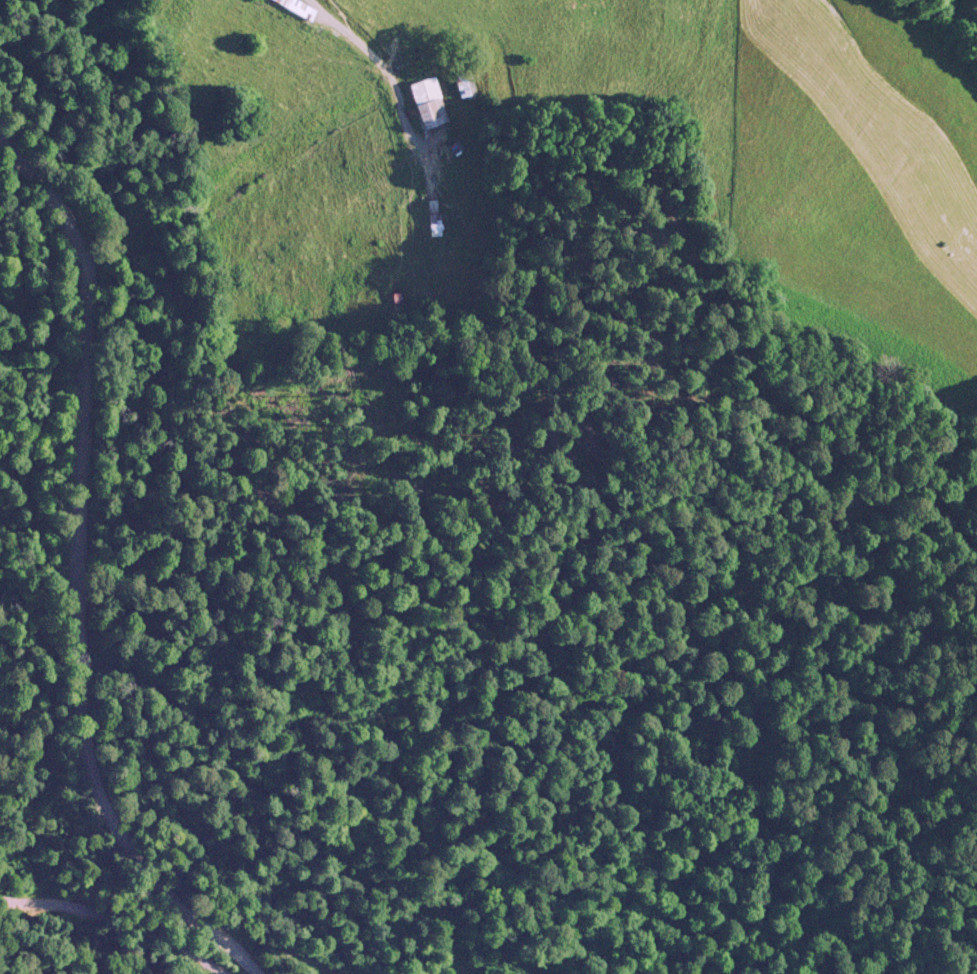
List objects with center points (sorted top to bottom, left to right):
building: (295, 7)
building: (463, 83)
road: (374, 85)
road: (891, 95)
building: (427, 102)
building: (432, 215)
road: (69, 462)
road: (166, 885)

